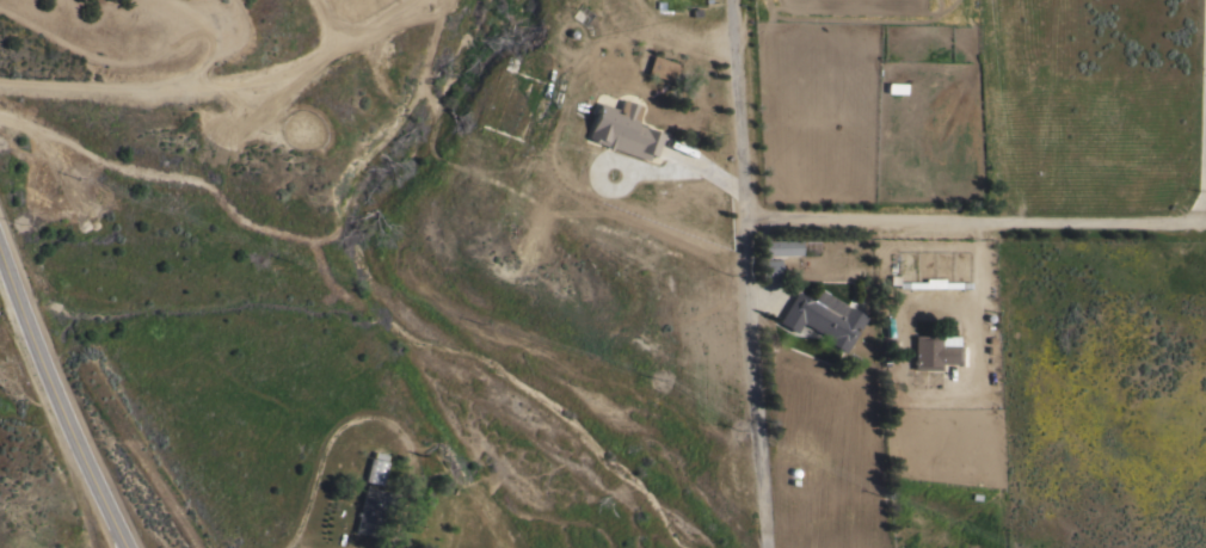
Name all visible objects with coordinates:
road: (676, 33)
building: (660, 68)
road: (137, 80)
building: (622, 128)
road: (1205, 186)
road: (972, 224)
building: (776, 247)
building: (768, 270)
road: (743, 273)
building: (934, 283)
building: (822, 318)
building: (934, 351)
road: (59, 401)
building: (374, 470)
building: (373, 510)

